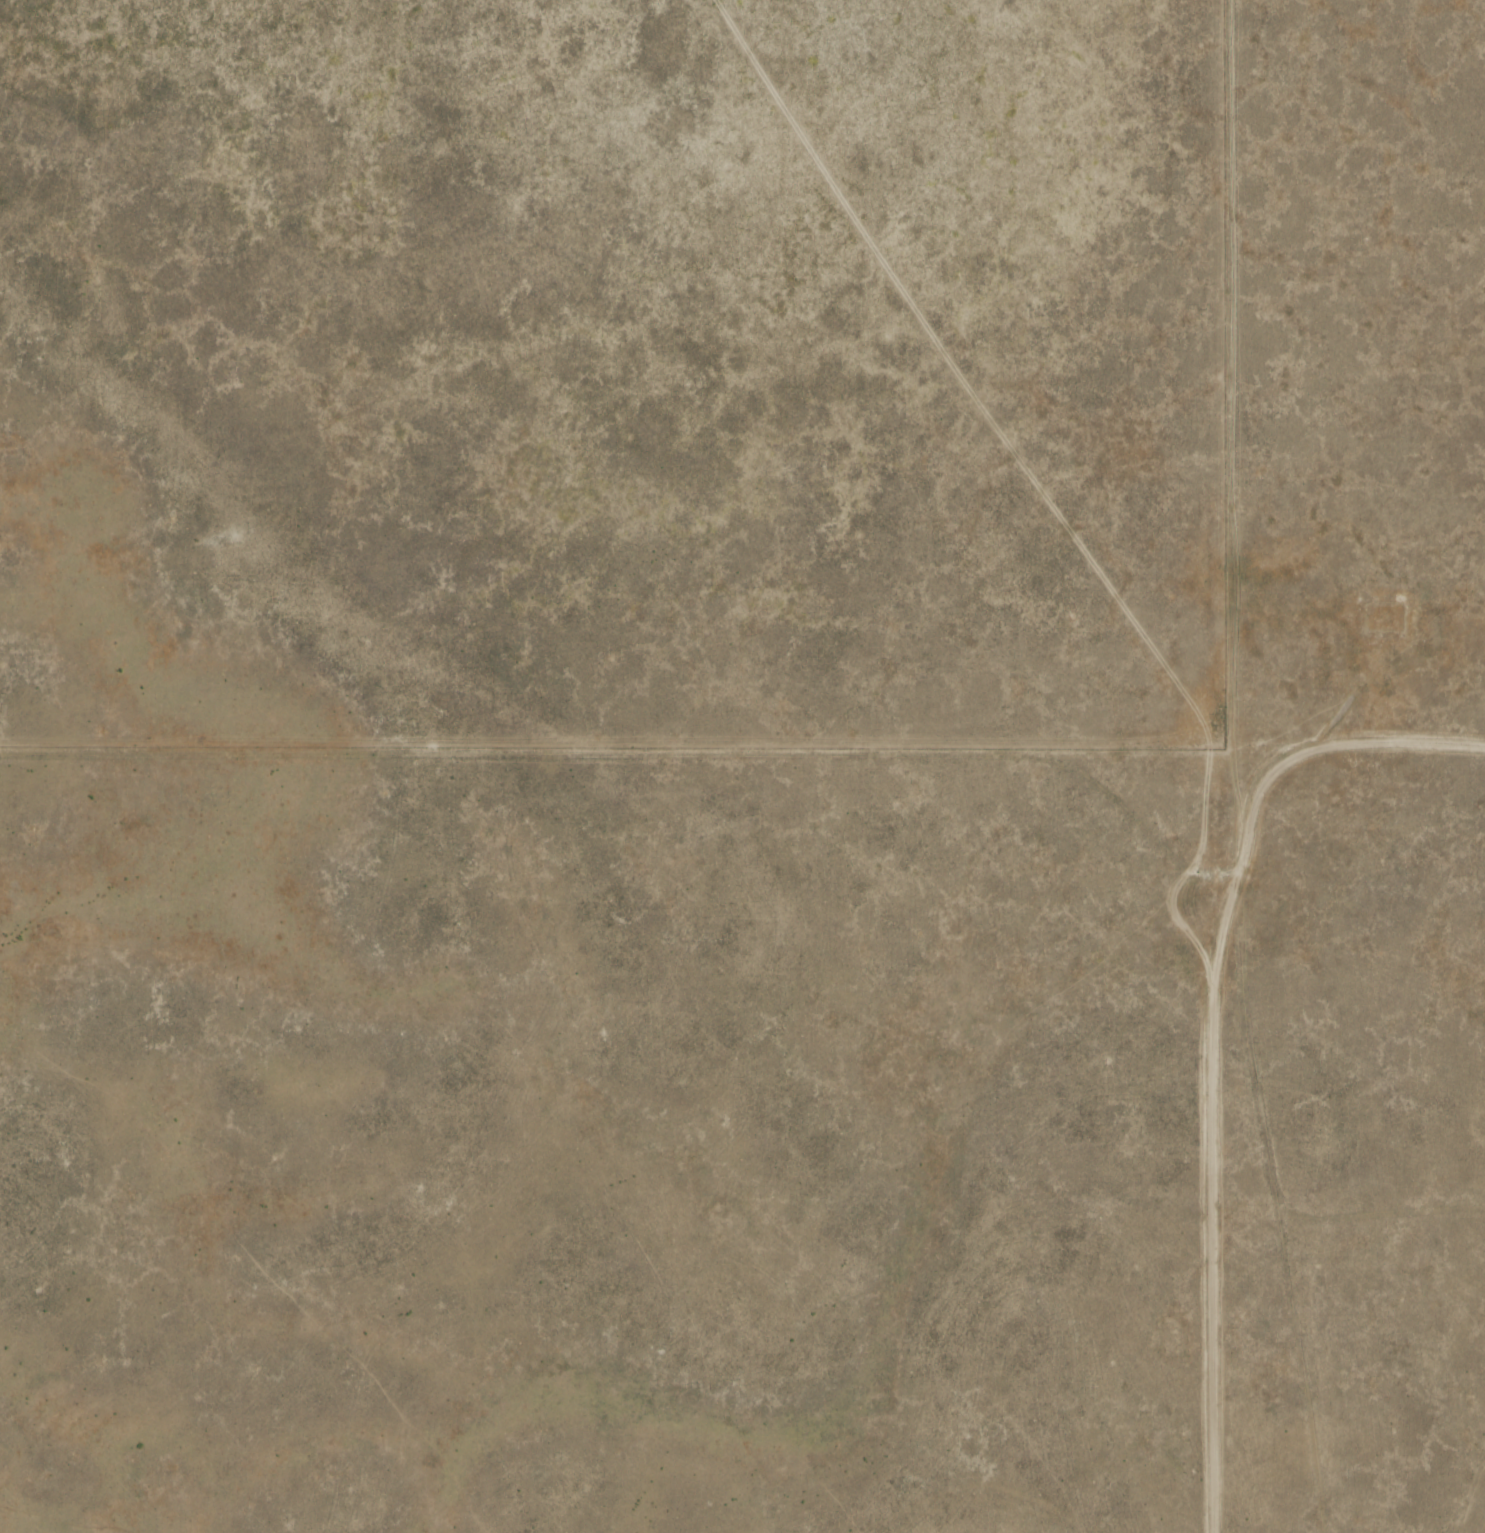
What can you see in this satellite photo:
road: (1334, 723)
road: (1230, 1171)

